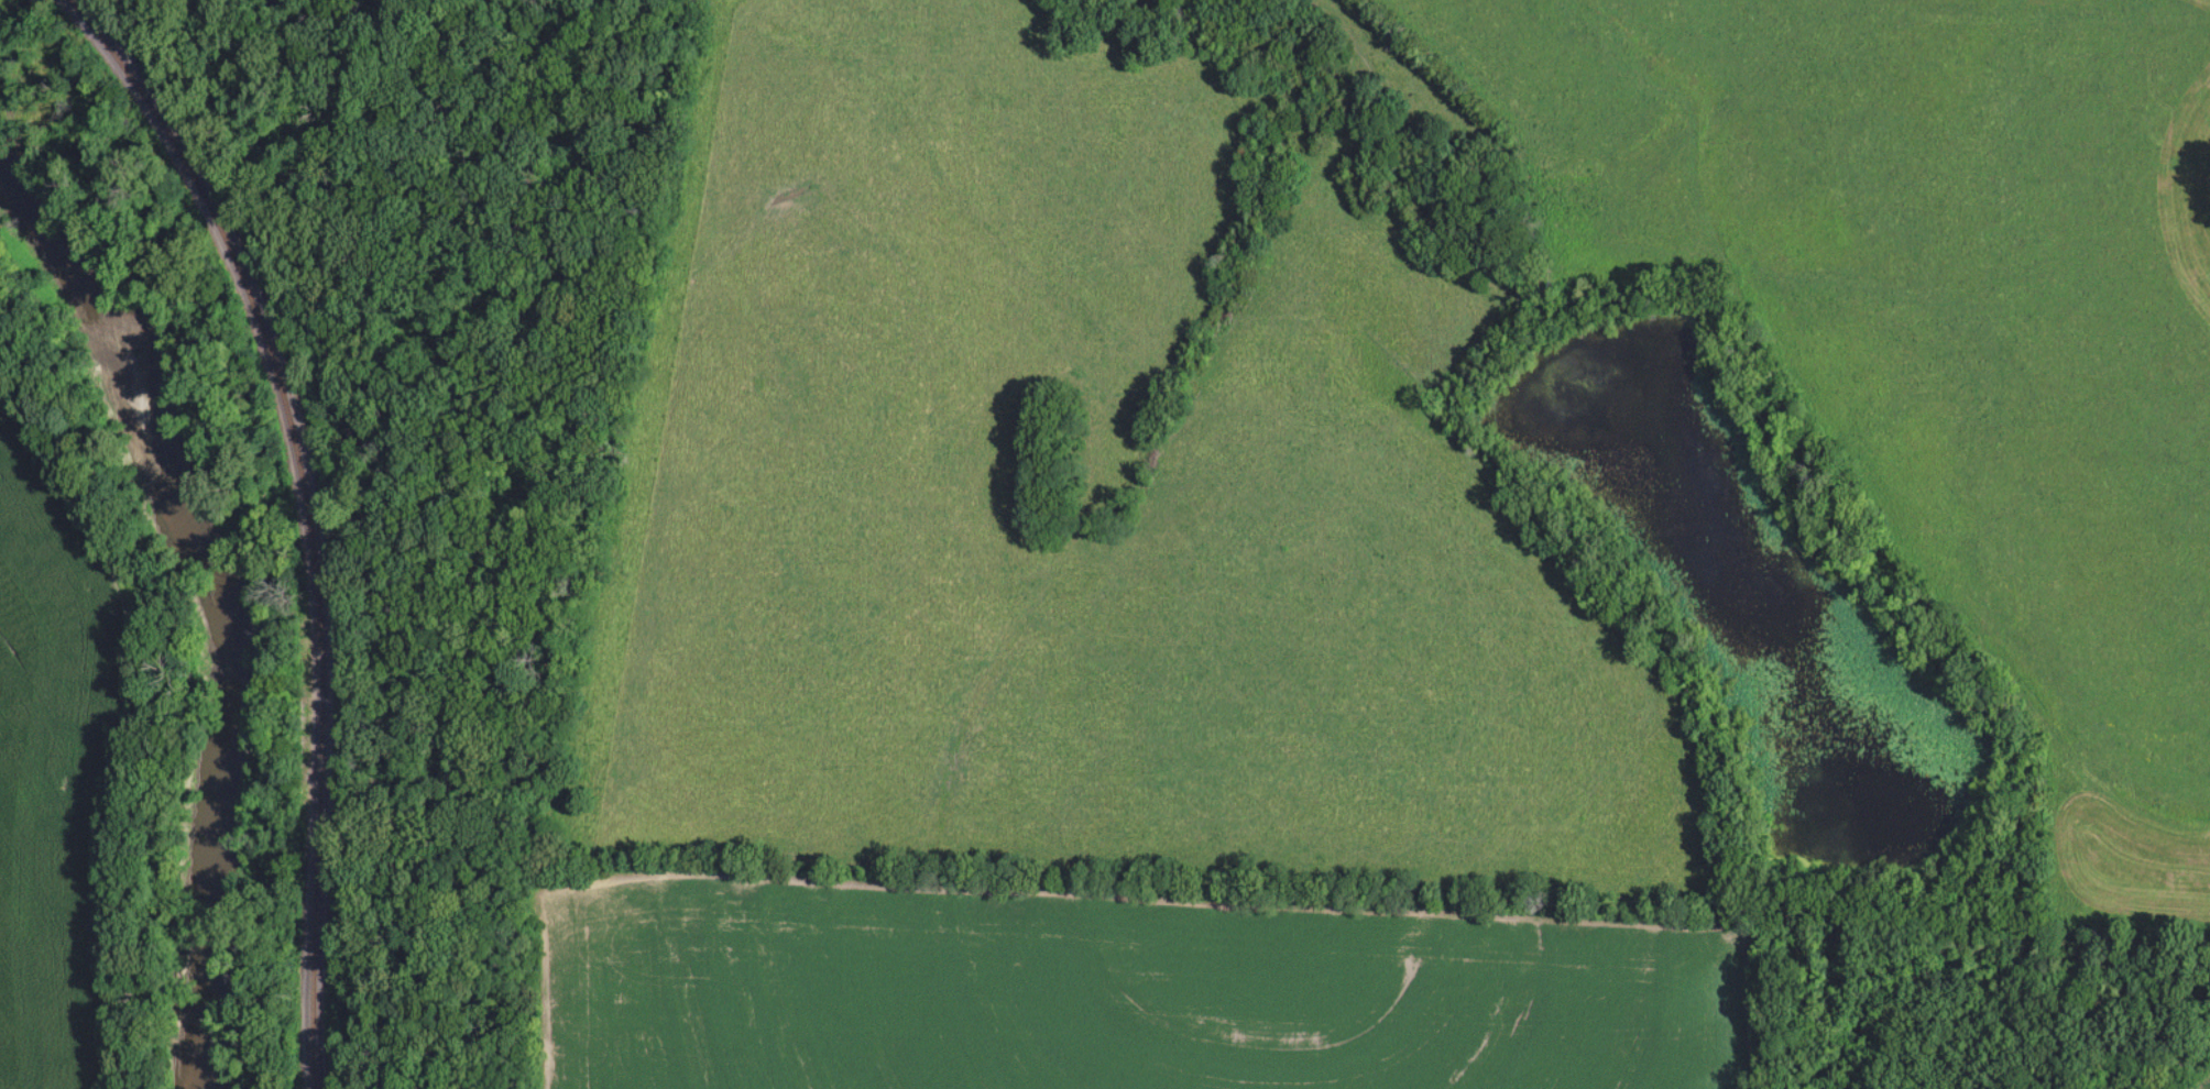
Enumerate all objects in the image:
railway: (306, 515)
river: (217, 602)

